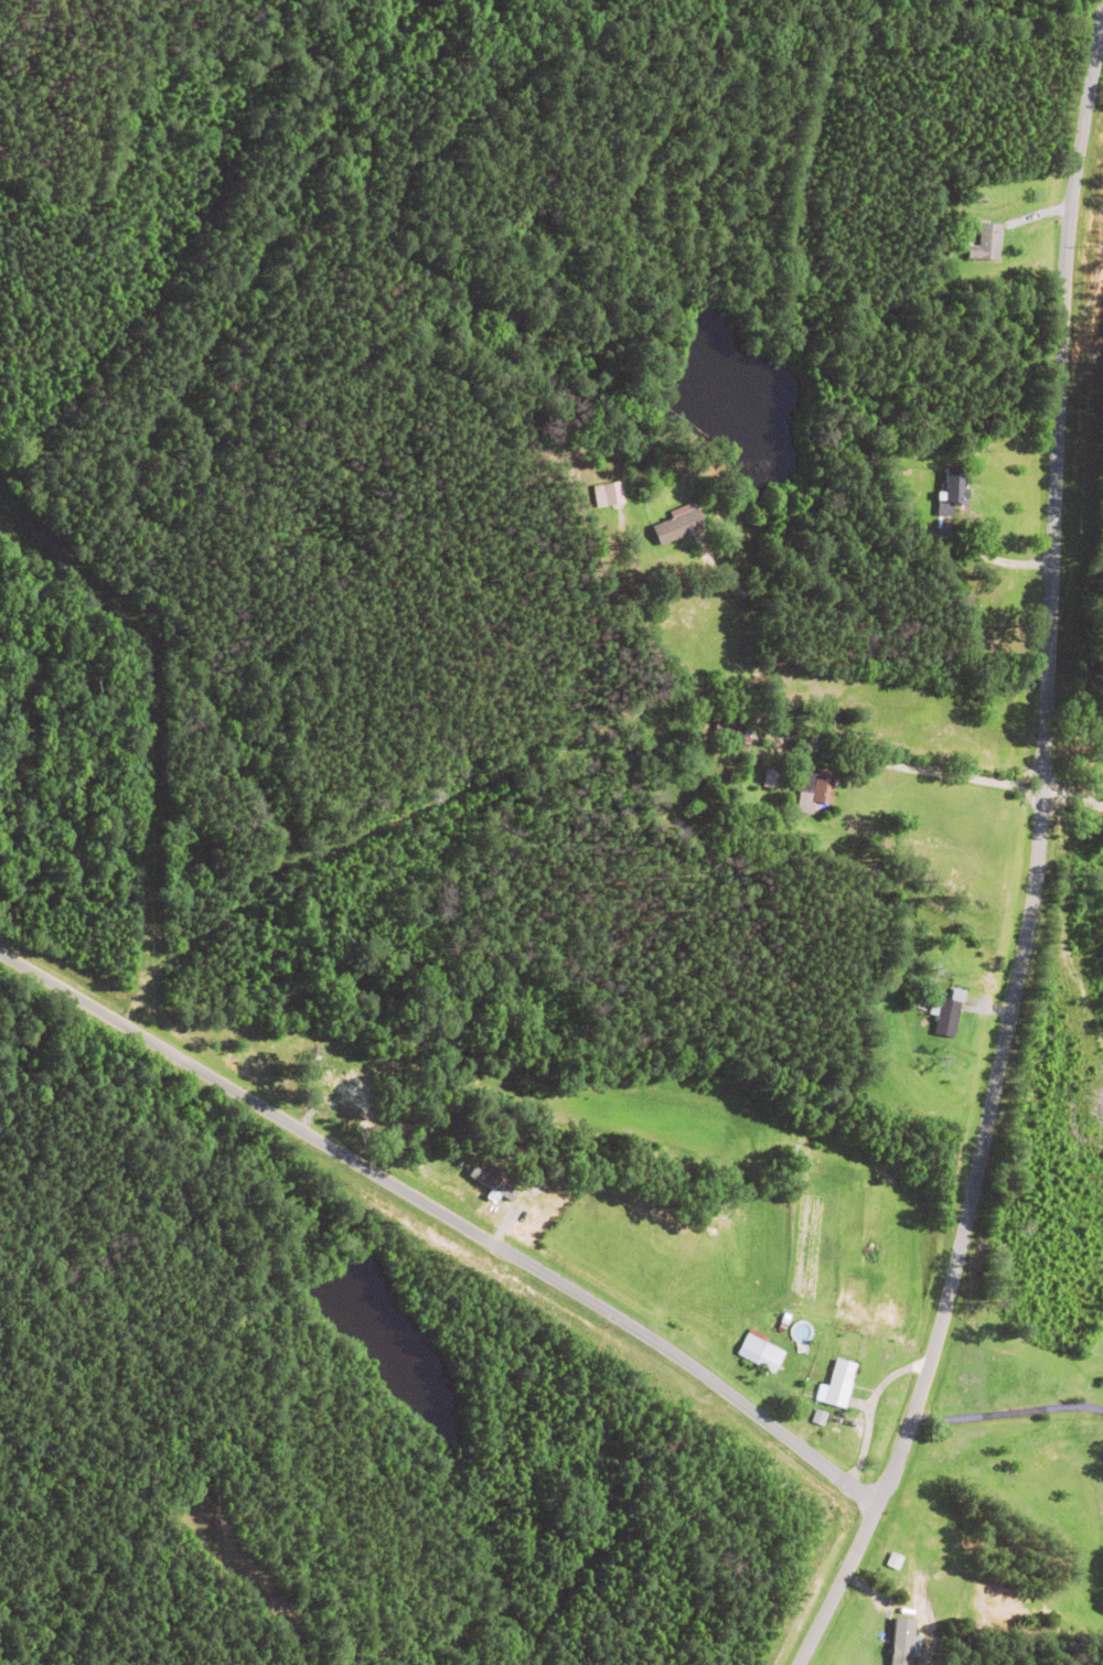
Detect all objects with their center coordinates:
building: (987, 243)
building: (954, 488)
building: (608, 495)
building: (674, 527)
building: (995, 634)
building: (729, 730)
building: (769, 780)
building: (815, 794)
road: (465, 828)
road: (1018, 849)
building: (943, 1017)
building: (352, 1095)
road: (431, 1237)
building: (760, 1352)
building: (839, 1384)

